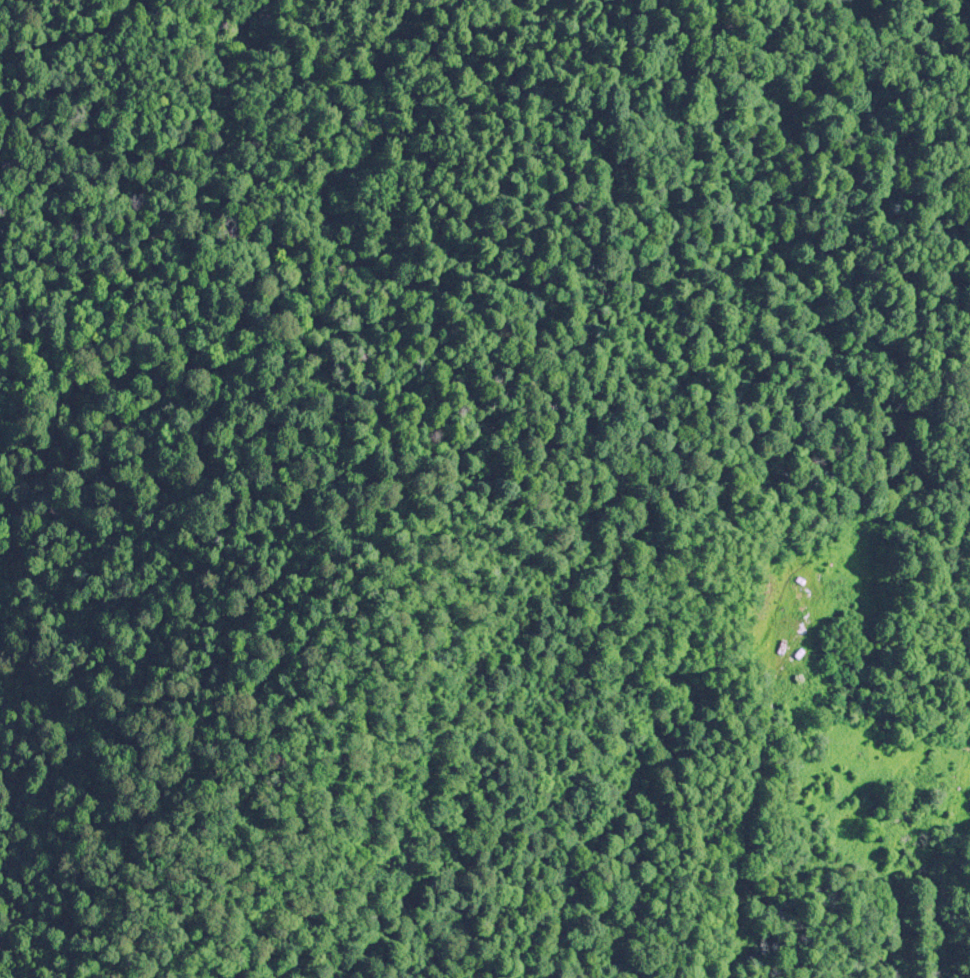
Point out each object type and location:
road: (786, 880)

